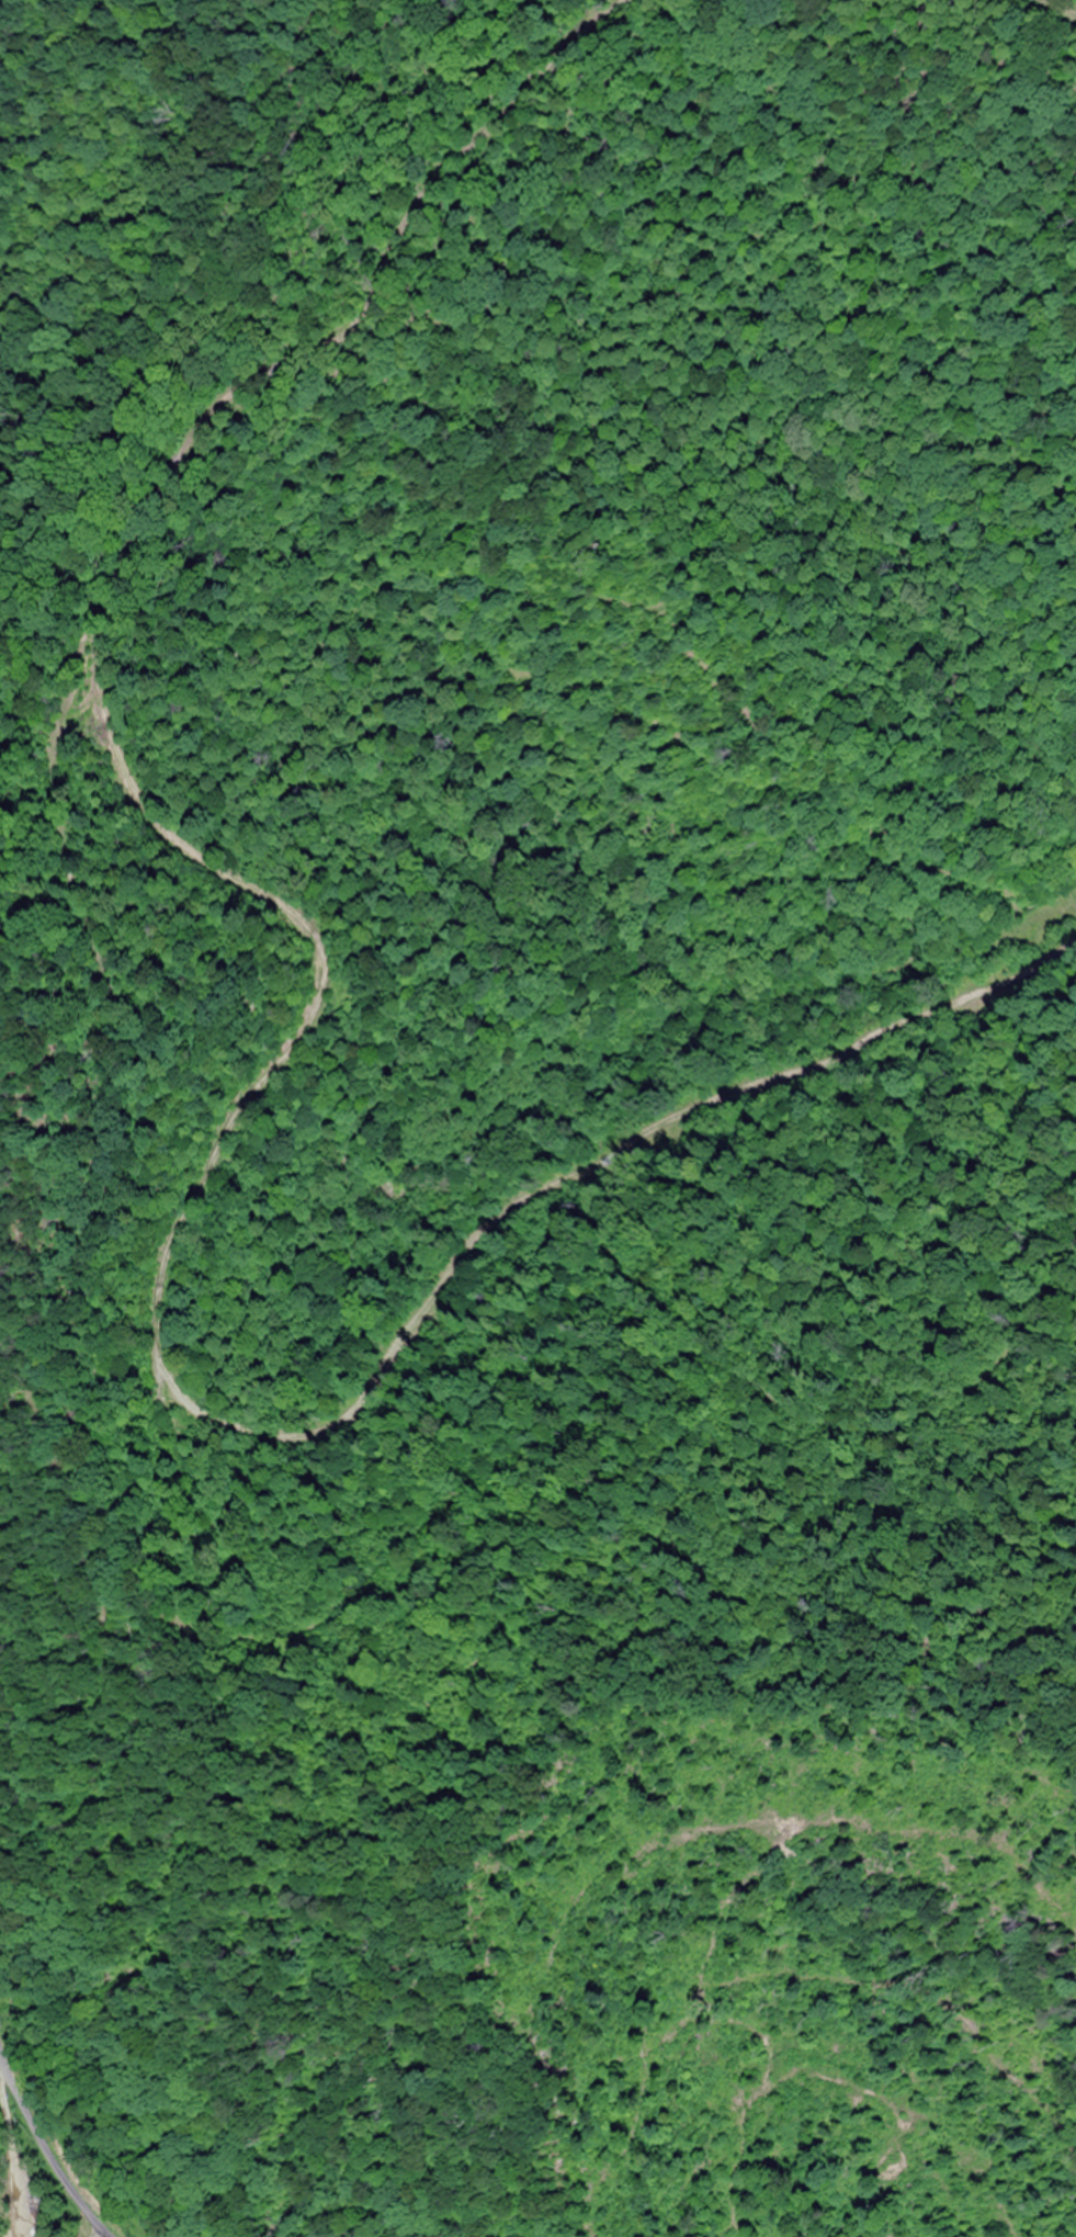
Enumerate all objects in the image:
road: (44, 2154)

